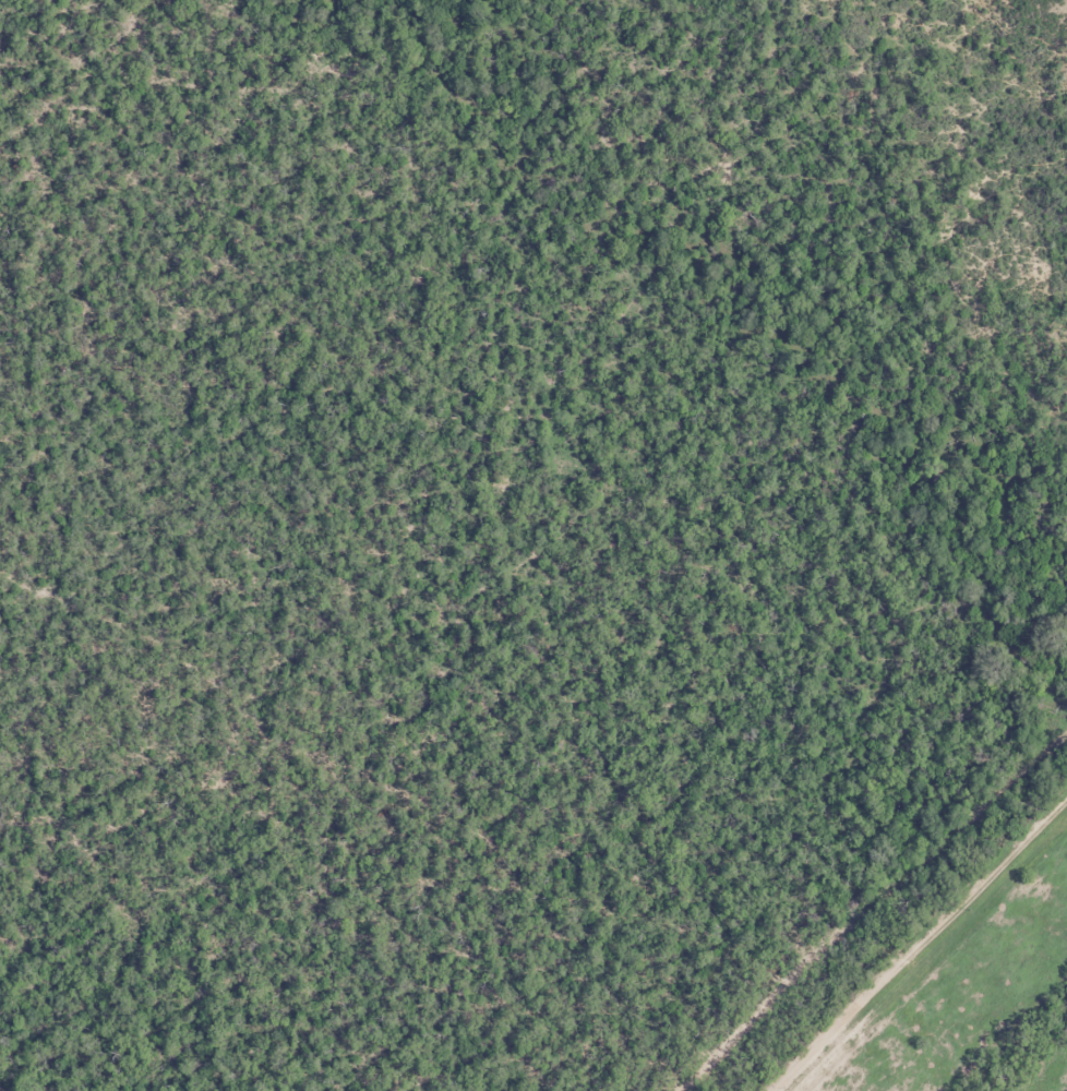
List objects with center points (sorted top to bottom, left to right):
road: (919, 942)
road: (976, 1000)

